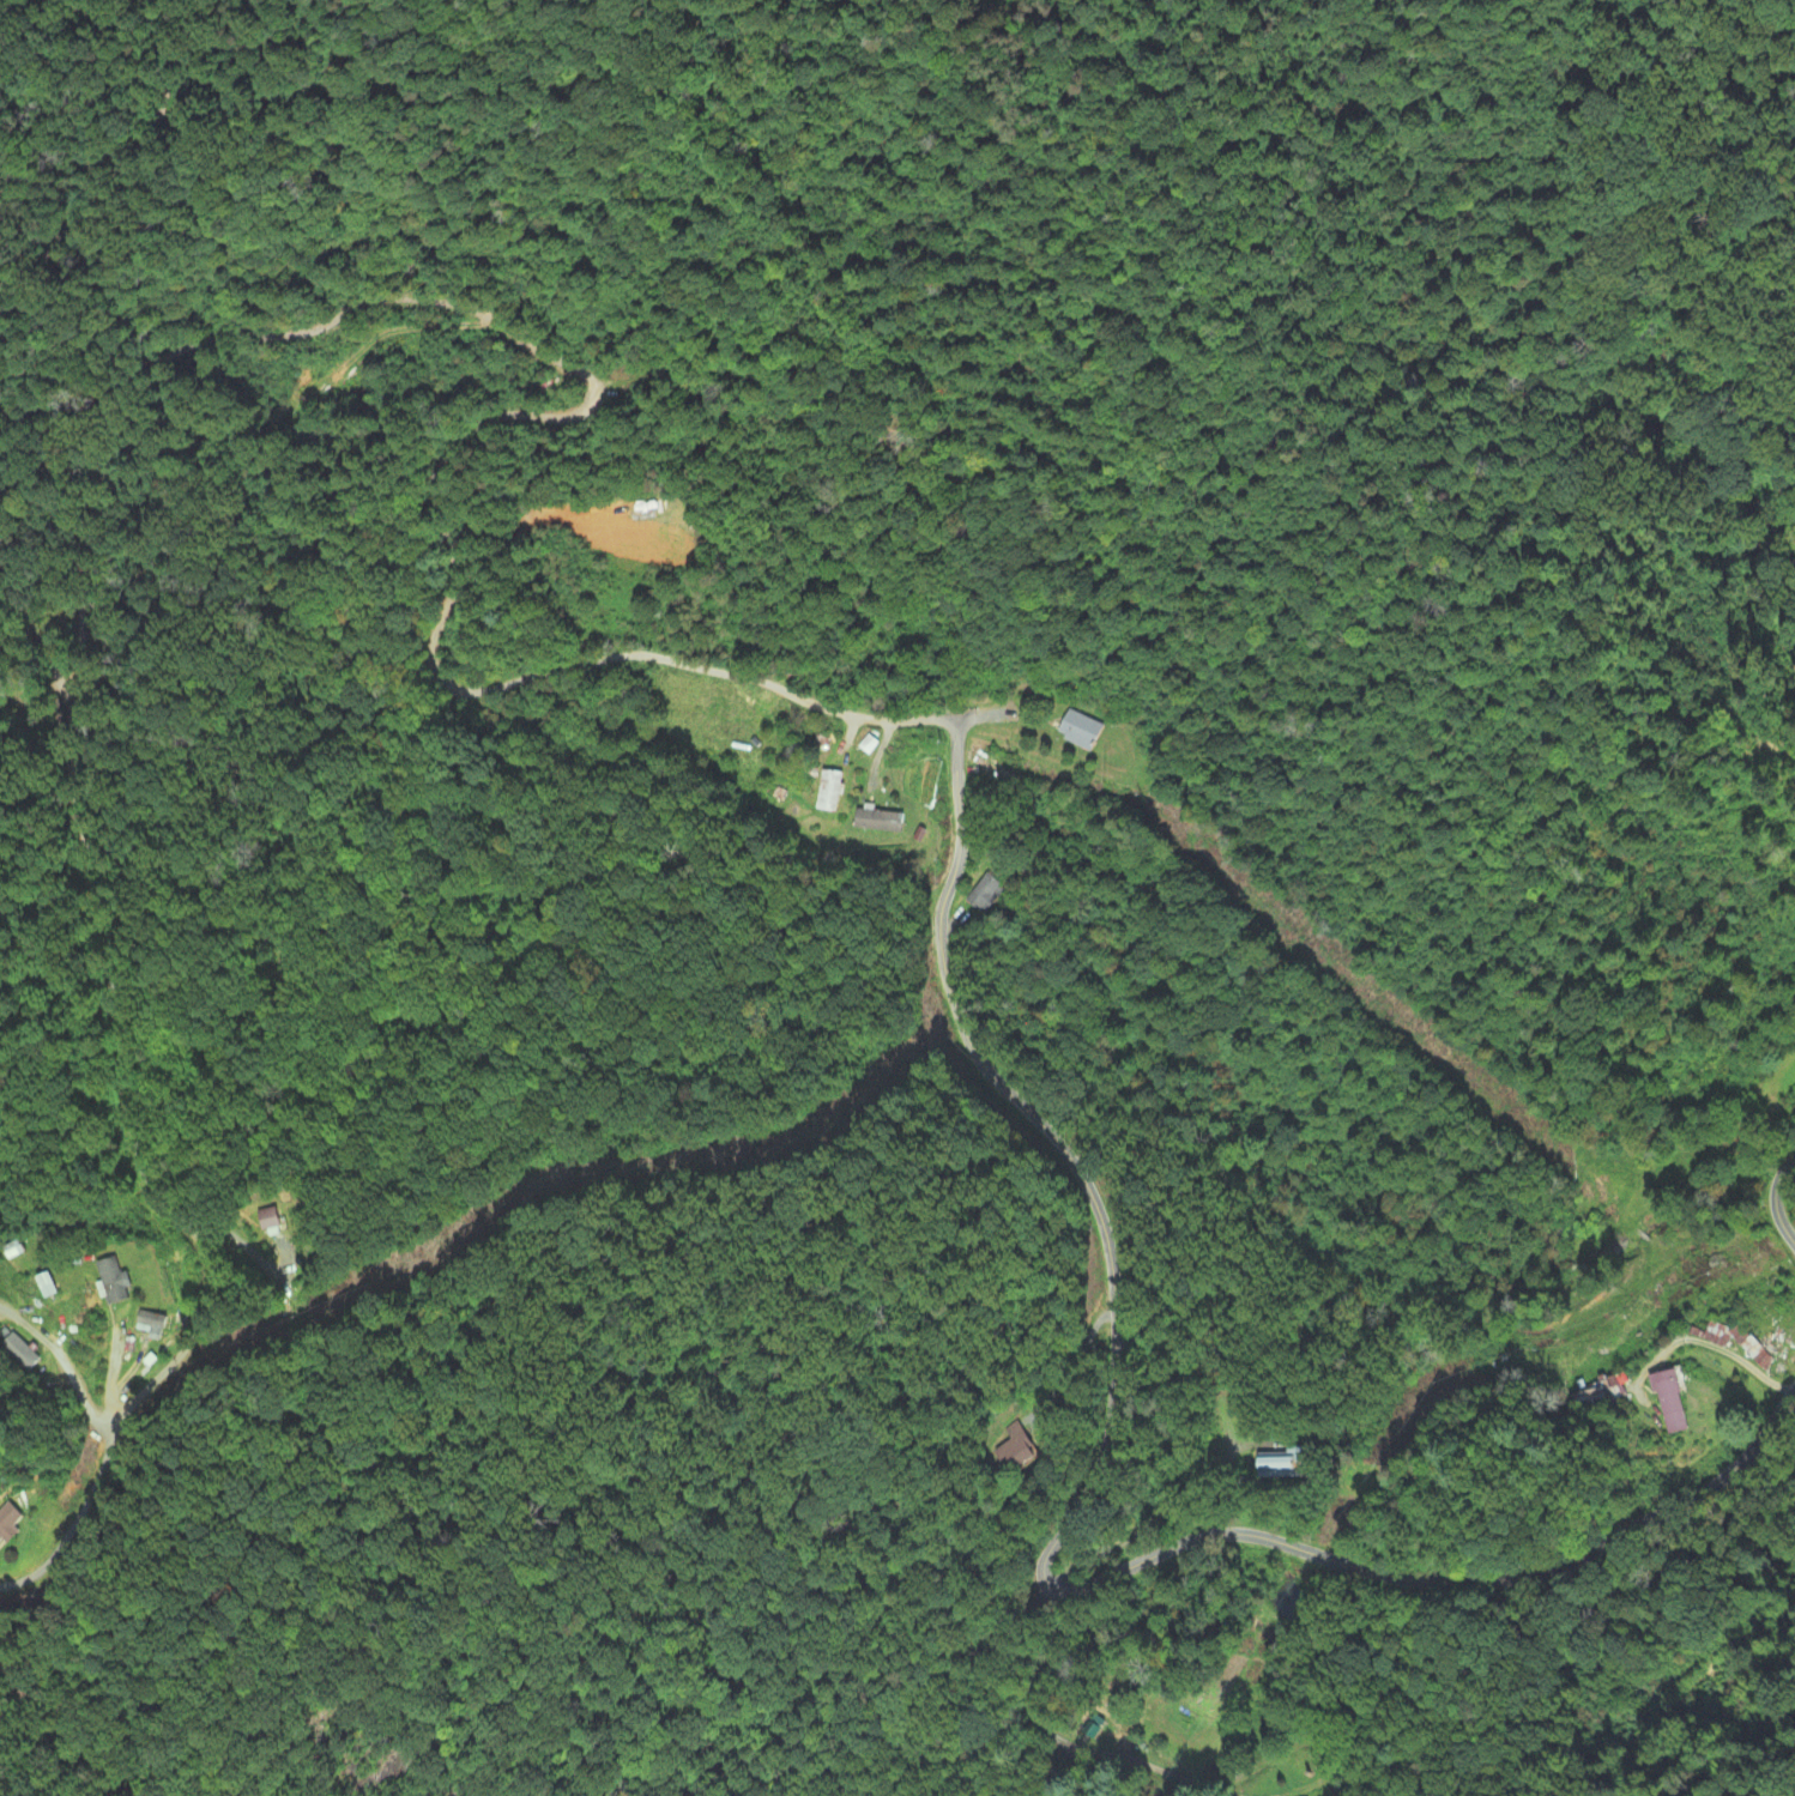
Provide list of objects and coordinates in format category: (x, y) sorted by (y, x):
road: (187, 350)
building: (1078, 730)
building: (868, 745)
building: (828, 791)
building: (877, 821)
building: (985, 894)
road: (1773, 1196)
building: (266, 1220)
building: (113, 1280)
building: (150, 1324)
building: (18, 1351)
building: (1616, 1386)
building: (1589, 1396)
building: (1668, 1401)
building: (1014, 1447)
building: (7, 1523)
road: (1057, 1537)
road: (908, 1721)

